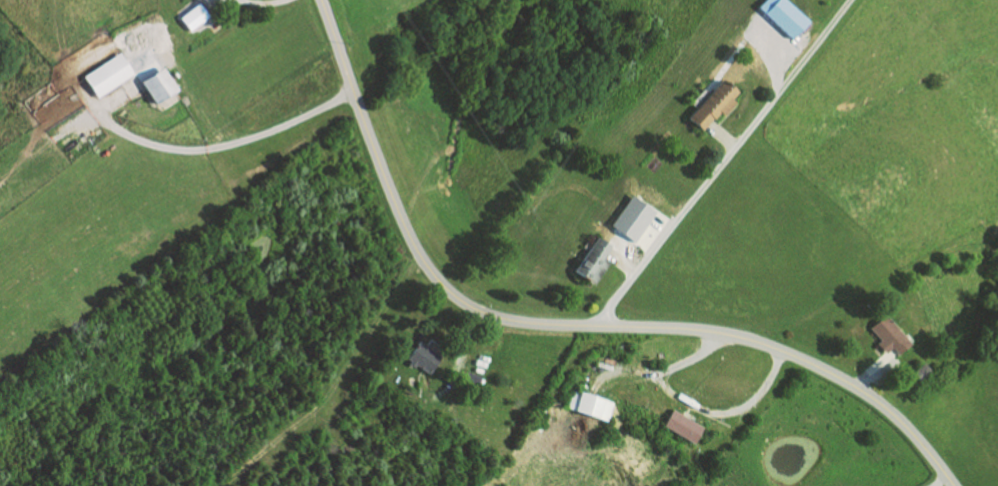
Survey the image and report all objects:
road: (255, 1)
building: (783, 15)
building: (194, 16)
road: (772, 65)
road: (789, 72)
building: (108, 74)
building: (710, 104)
road: (280, 126)
road: (720, 133)
road: (142, 140)
road: (40, 145)
building: (642, 221)
road: (665, 233)
road: (651, 238)
road: (629, 252)
building: (592, 261)
road: (619, 263)
road: (566, 322)
road: (464, 331)
building: (883, 336)
building: (418, 356)
road: (870, 367)
road: (627, 370)
building: (919, 371)
building: (466, 376)
road: (336, 384)
building: (587, 404)
road: (698, 404)
building: (682, 426)
road: (940, 481)

